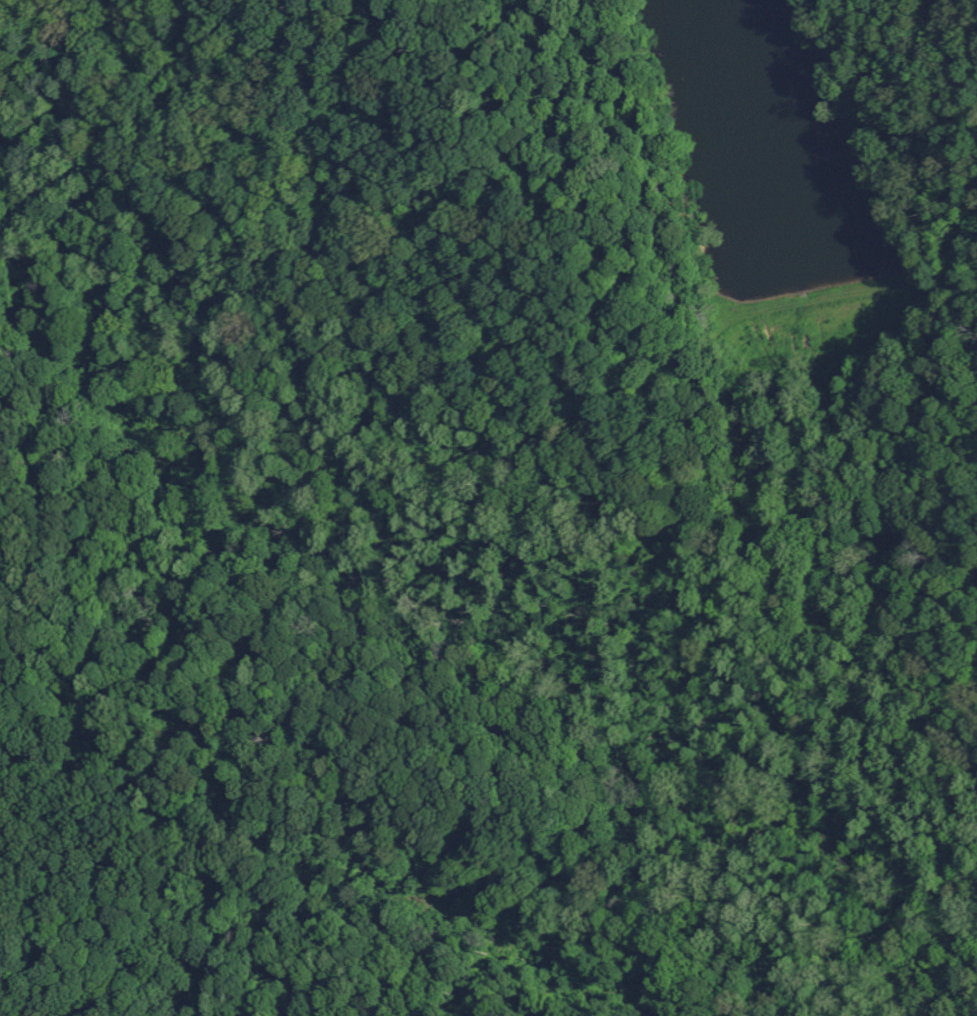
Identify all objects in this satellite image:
road: (955, 36)

